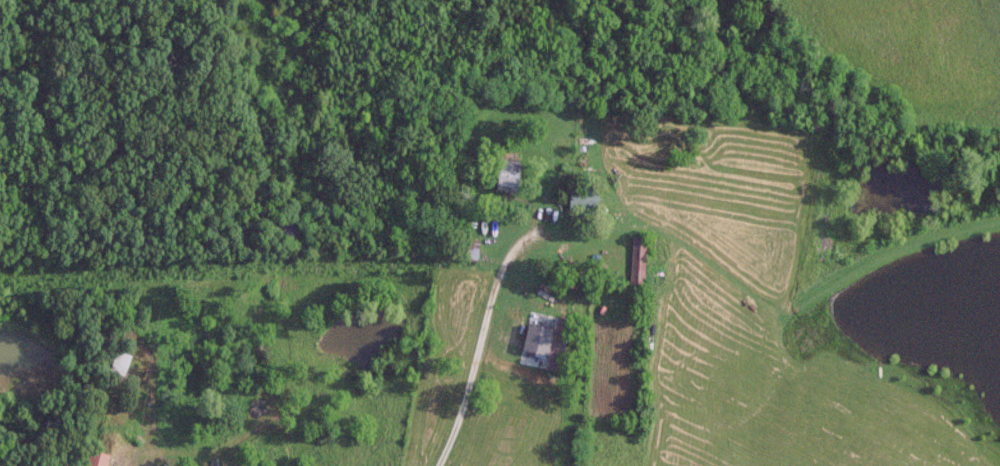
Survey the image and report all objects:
building: (504, 176)
building: (580, 198)
building: (469, 248)
building: (636, 260)
road: (481, 330)
building: (94, 459)

